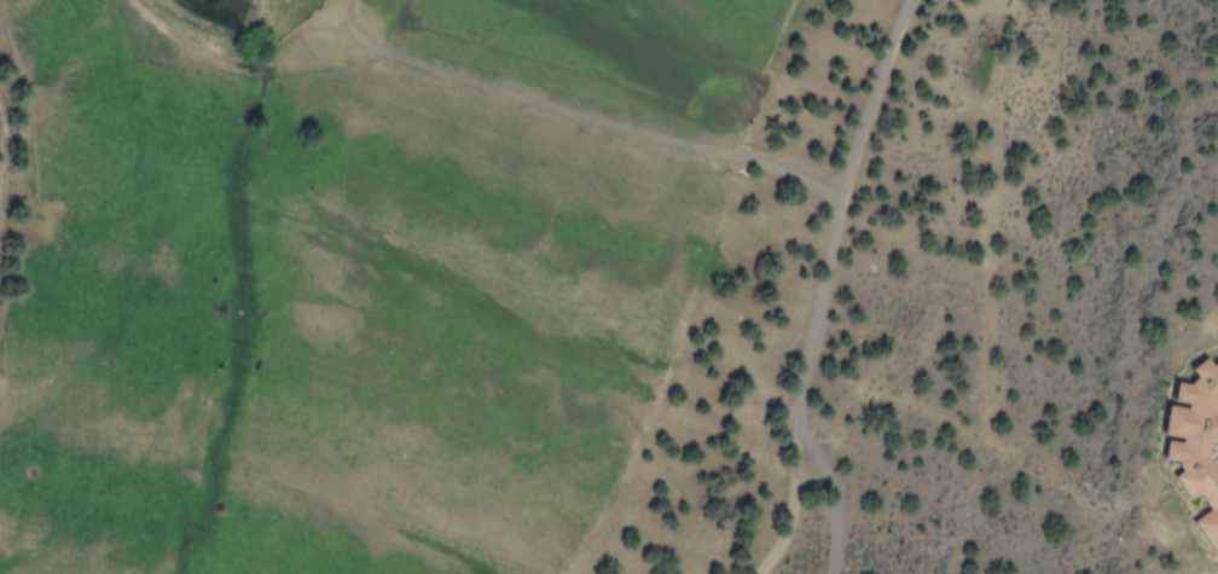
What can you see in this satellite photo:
crop: (335, 266)
building: (1187, 443)

